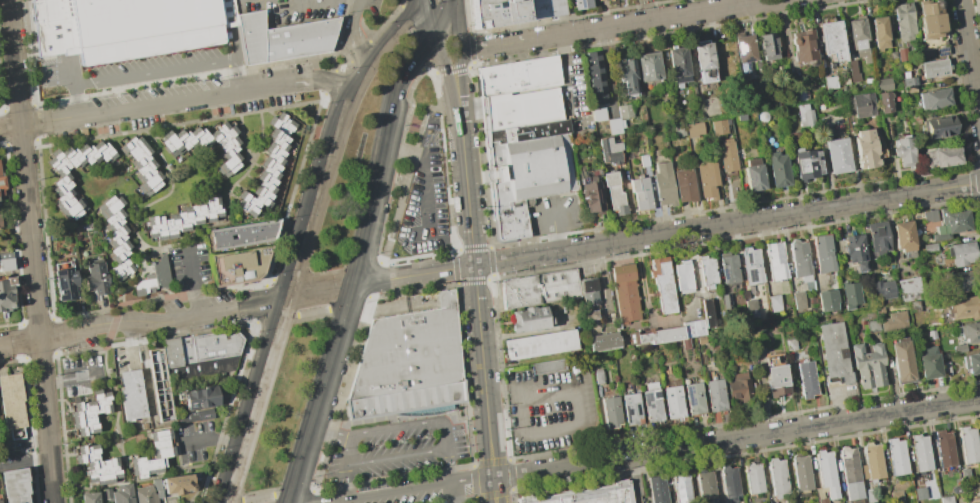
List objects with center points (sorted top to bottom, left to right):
building: (598, 0)
road: (400, 3)
building: (582, 4)
parking lot: (373, 6)
road: (648, 10)
building: (514, 11)
road: (431, 13)
road: (442, 14)
road: (468, 17)
building: (929, 18)
road: (384, 22)
building: (904, 22)
road: (456, 25)
road: (617, 25)
building: (129, 27)
traffic signals: (434, 28)
building: (880, 33)
building: (856, 34)
road: (337, 35)
road: (355, 35)
building: (284, 38)
road: (411, 38)
building: (831, 40)
road: (425, 41)
rooftop solar panel: (738, 46)
building: (768, 46)
road: (470, 47)
building: (744, 48)
building: (804, 48)
road: (359, 51)
building: (941, 51)
rooftop solar panel: (941, 51)
road: (380, 53)
building: (901, 54)
building: (892, 55)
rooftop solar panel: (747, 58)
road: (970, 59)
road: (349, 60)
building: (704, 62)
building: (678, 65)
road: (472, 66)
rooftop solar panel: (643, 66)
building: (647, 66)
road: (567, 67)
road: (444, 68)
building: (932, 68)
road: (169, 69)
road: (451, 69)
parking lot: (125, 70)
road: (422, 70)
road: (430, 73)
road: (433, 73)
traffic signals: (460, 74)
building: (626, 76)
building: (518, 77)
building: (596, 78)
road: (459, 80)
building: (908, 81)
road: (329, 82)
building: (829, 82)
building: (882, 83)
building: (861, 85)
building: (909, 89)
road: (394, 92)
building: (799, 92)
road: (177, 99)
building: (934, 99)
road: (75, 100)
building: (884, 102)
building: (847, 105)
building: (862, 105)
building: (624, 111)
building: (598, 114)
building: (804, 115)
building: (741, 117)
building: (763, 117)
road: (416, 121)
building: (614, 125)
building: (719, 126)
building: (939, 127)
road: (413, 129)
building: (693, 129)
building: (677, 131)
building: (184, 140)
building: (795, 141)
building: (226, 147)
road: (395, 147)
building: (864, 148)
building: (610, 149)
building: (903, 152)
building: (837, 154)
building: (525, 155)
building: (727, 155)
building: (78, 156)
road: (482, 156)
building: (942, 156)
building: (643, 160)
building: (807, 162)
building: (141, 164)
building: (267, 166)
building: (778, 168)
railway: (356, 170)
rooftop solar panel: (747, 171)
rooftop solar panel: (751, 173)
building: (753, 173)
road: (445, 179)
building: (707, 179)
road: (979, 181)
rooftop solar panel: (748, 182)
building: (1, 183)
road: (423, 183)
building: (662, 184)
building: (683, 185)
road: (465, 187)
road: (293, 189)
building: (640, 192)
building: (591, 194)
building: (614, 194)
building: (65, 197)
parking lot: (425, 198)
road: (318, 201)
road: (397, 208)
road: (366, 210)
building: (929, 216)
building: (182, 219)
building: (949, 222)
road: (558, 229)
road: (664, 233)
building: (243, 235)
building: (115, 236)
building: (903, 236)
building: (878, 238)
building: (929, 247)
road: (31, 251)
building: (854, 252)
building: (823, 254)
building: (962, 254)
building: (800, 257)
rooftop solar panel: (748, 258)
building: (5, 261)
building: (775, 261)
building: (239, 265)
parking lot: (189, 266)
building: (751, 266)
building: (728, 267)
road: (325, 272)
building: (707, 272)
rooftop solar panel: (727, 272)
road: (694, 275)
rooftop solar panel: (752, 276)
building: (95, 277)
building: (153, 277)
building: (683, 277)
road: (269, 278)
road: (491, 279)
building: (64, 280)
road: (374, 280)
building: (962, 281)
road: (131, 282)
road: (193, 282)
building: (662, 285)
building: (539, 288)
building: (883, 289)
building: (909, 289)
road: (320, 290)
building: (589, 292)
building: (624, 292)
road: (644, 292)
building: (851, 295)
building: (5, 297)
building: (798, 299)
building: (827, 299)
road: (347, 302)
building: (774, 303)
road: (260, 304)
building: (963, 307)
building: (751, 308)
road: (312, 312)
building: (707, 312)
road: (275, 318)
building: (529, 320)
building: (592, 320)
building: (892, 320)
road: (145, 321)
building: (693, 328)
building: (968, 332)
building: (655, 336)
building: (700, 340)
building: (603, 341)
building: (684, 344)
building: (790, 344)
building: (540, 345)
building: (210, 346)
building: (834, 351)
building: (223, 361)
building: (901, 361)
building: (928, 362)
building: (972, 363)
building: (408, 364)
building: (868, 366)
building: (547, 367)
road: (482, 372)
building: (597, 376)
road: (72, 379)
building: (807, 379)
building: (775, 380)
building: (159, 384)
power substation: (160, 385)
building: (738, 386)
road: (502, 387)
road: (317, 393)
building: (131, 394)
road: (342, 394)
rooftop solar panel: (656, 394)
building: (715, 395)
rooftop solar panel: (689, 396)
building: (198, 398)
rooftop solar panel: (645, 398)
building: (693, 398)
road: (259, 399)
building: (11, 400)
building: (651, 402)
building: (672, 402)
rooftop solar panel: (191, 404)
building: (632, 409)
building: (90, 412)
road: (226, 412)
building: (610, 412)
rooftop solar panel: (625, 412)
rooftop solar panel: (635, 412)
building: (193, 416)
road: (410, 427)
road: (578, 427)
road: (329, 434)
road: (735, 438)
road: (214, 439)
parking lot: (193, 440)
building: (161, 443)
building: (968, 444)
parking lot: (397, 448)
building: (945, 449)
road: (349, 452)
building: (921, 452)
building: (897, 456)
road: (314, 457)
road: (398, 457)
road: (320, 459)
building: (873, 461)
road: (25, 462)
building: (97, 465)
building: (144, 466)
road: (451, 467)
building: (801, 473)
building: (826, 473)
building: (851, 473)
building: (964, 474)
building: (777, 476)
building: (753, 478)
road: (472, 481)
road: (347, 482)
building: (179, 484)
building: (730, 484)
building: (979, 484)
building: (15, 485)
building: (706, 488)
building: (681, 489)
road: (493, 490)
building: (658, 490)
building: (956, 490)
road: (292, 492)
building: (119, 493)
road: (391, 493)
road: (455, 493)
building: (919, 493)
building: (145, 495)
building: (590, 496)
building: (870, 496)
building: (90, 497)
road: (257, 497)
road: (310, 497)
building: (897, 497)
building: (945, 499)
building: (822, 500)
building: (0, 501)
road: (232, 501)

